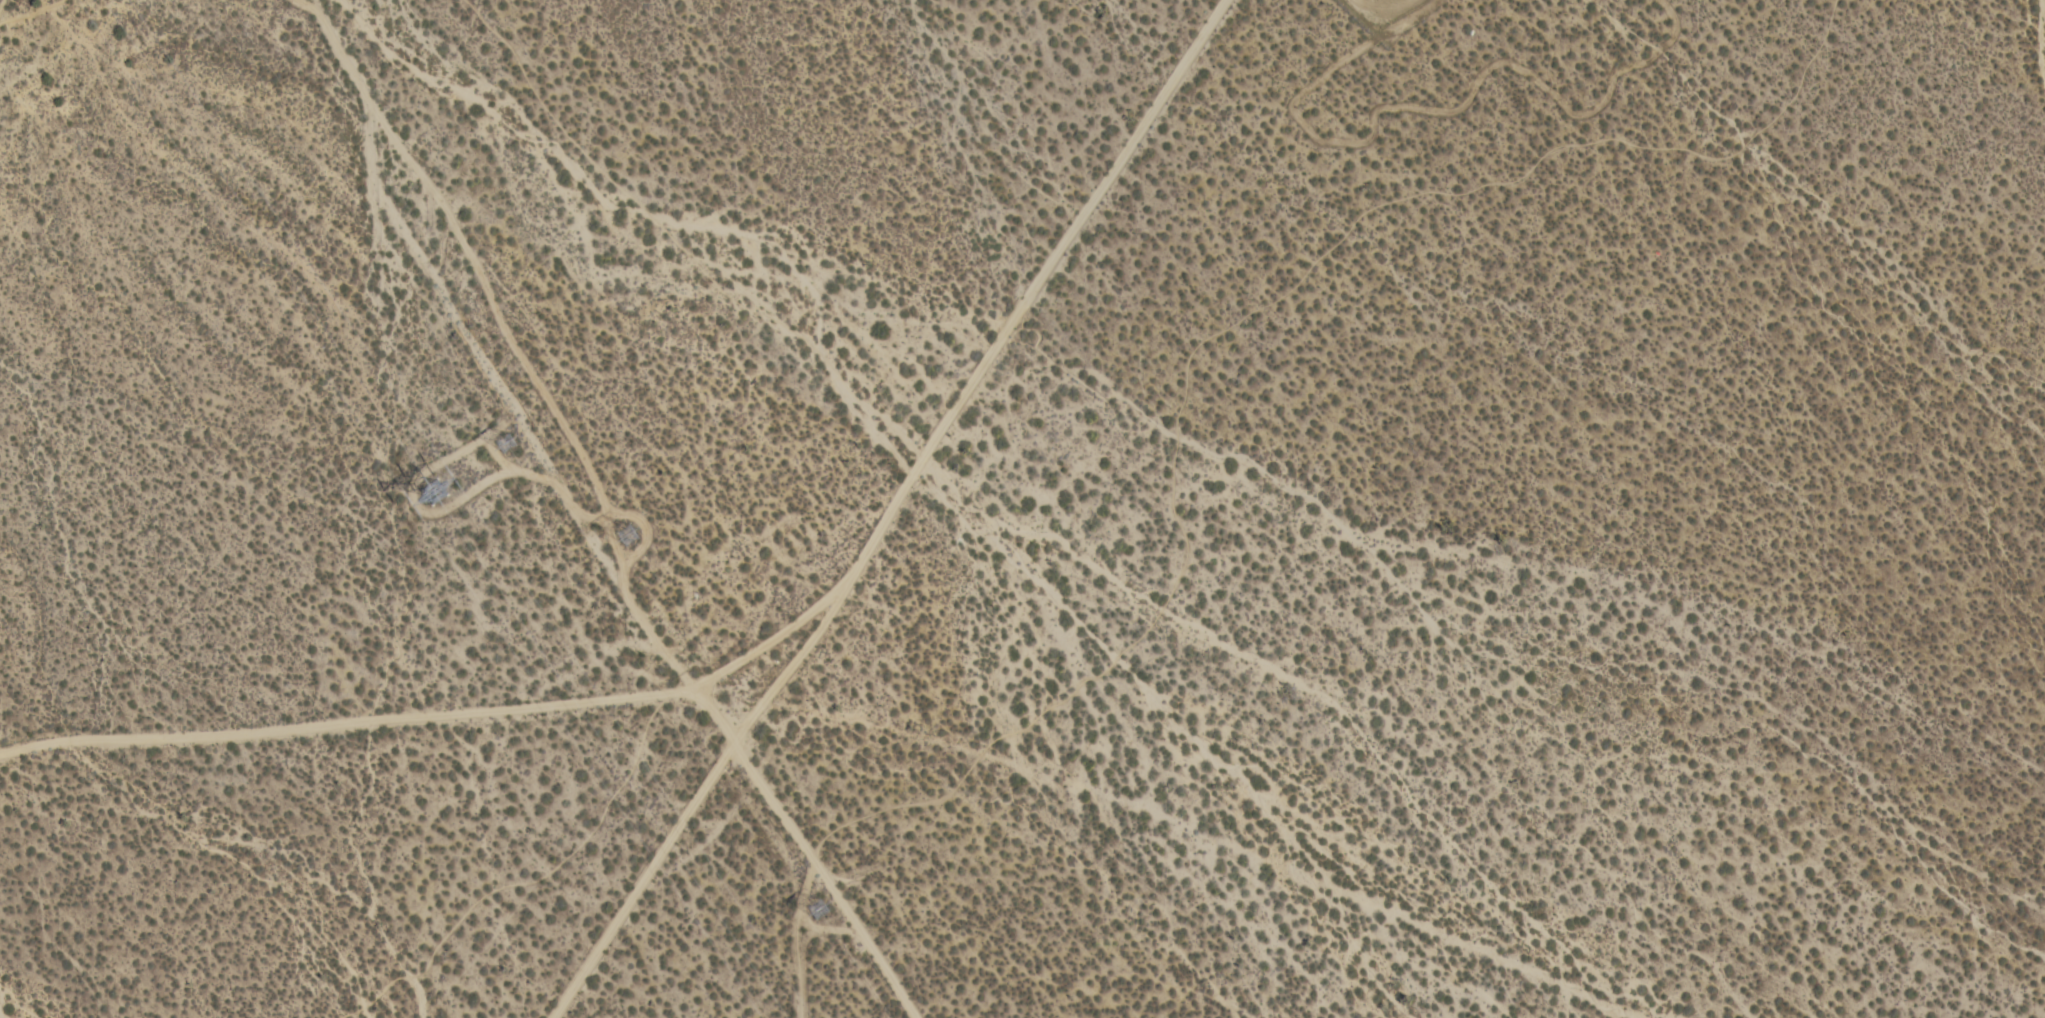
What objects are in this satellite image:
road: (1030, 297)
power tower: (512, 444)
power tower: (443, 491)
power tower: (632, 532)
road: (435, 727)
road: (773, 800)
road: (696, 807)
power tower: (825, 912)
road: (796, 934)
road: (865, 934)

